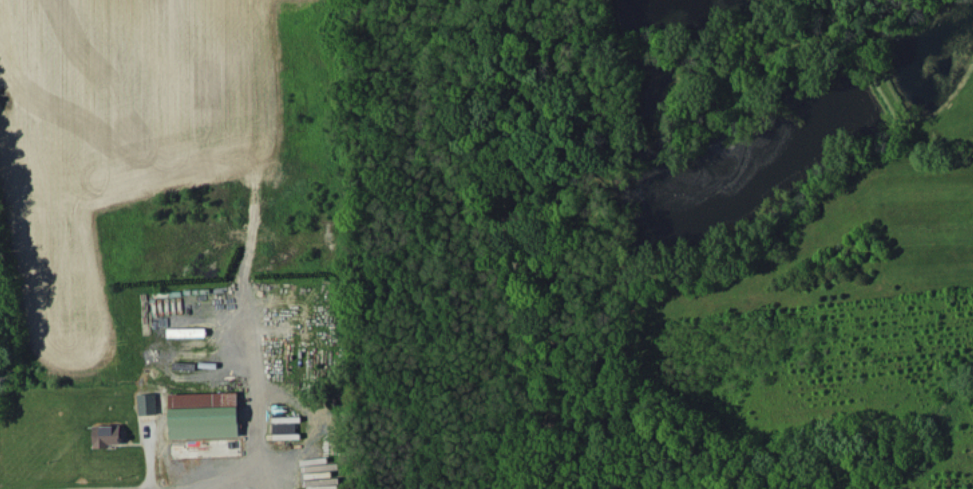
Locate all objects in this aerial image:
building: (147, 403)
building: (202, 414)
building: (284, 427)
building: (107, 435)

